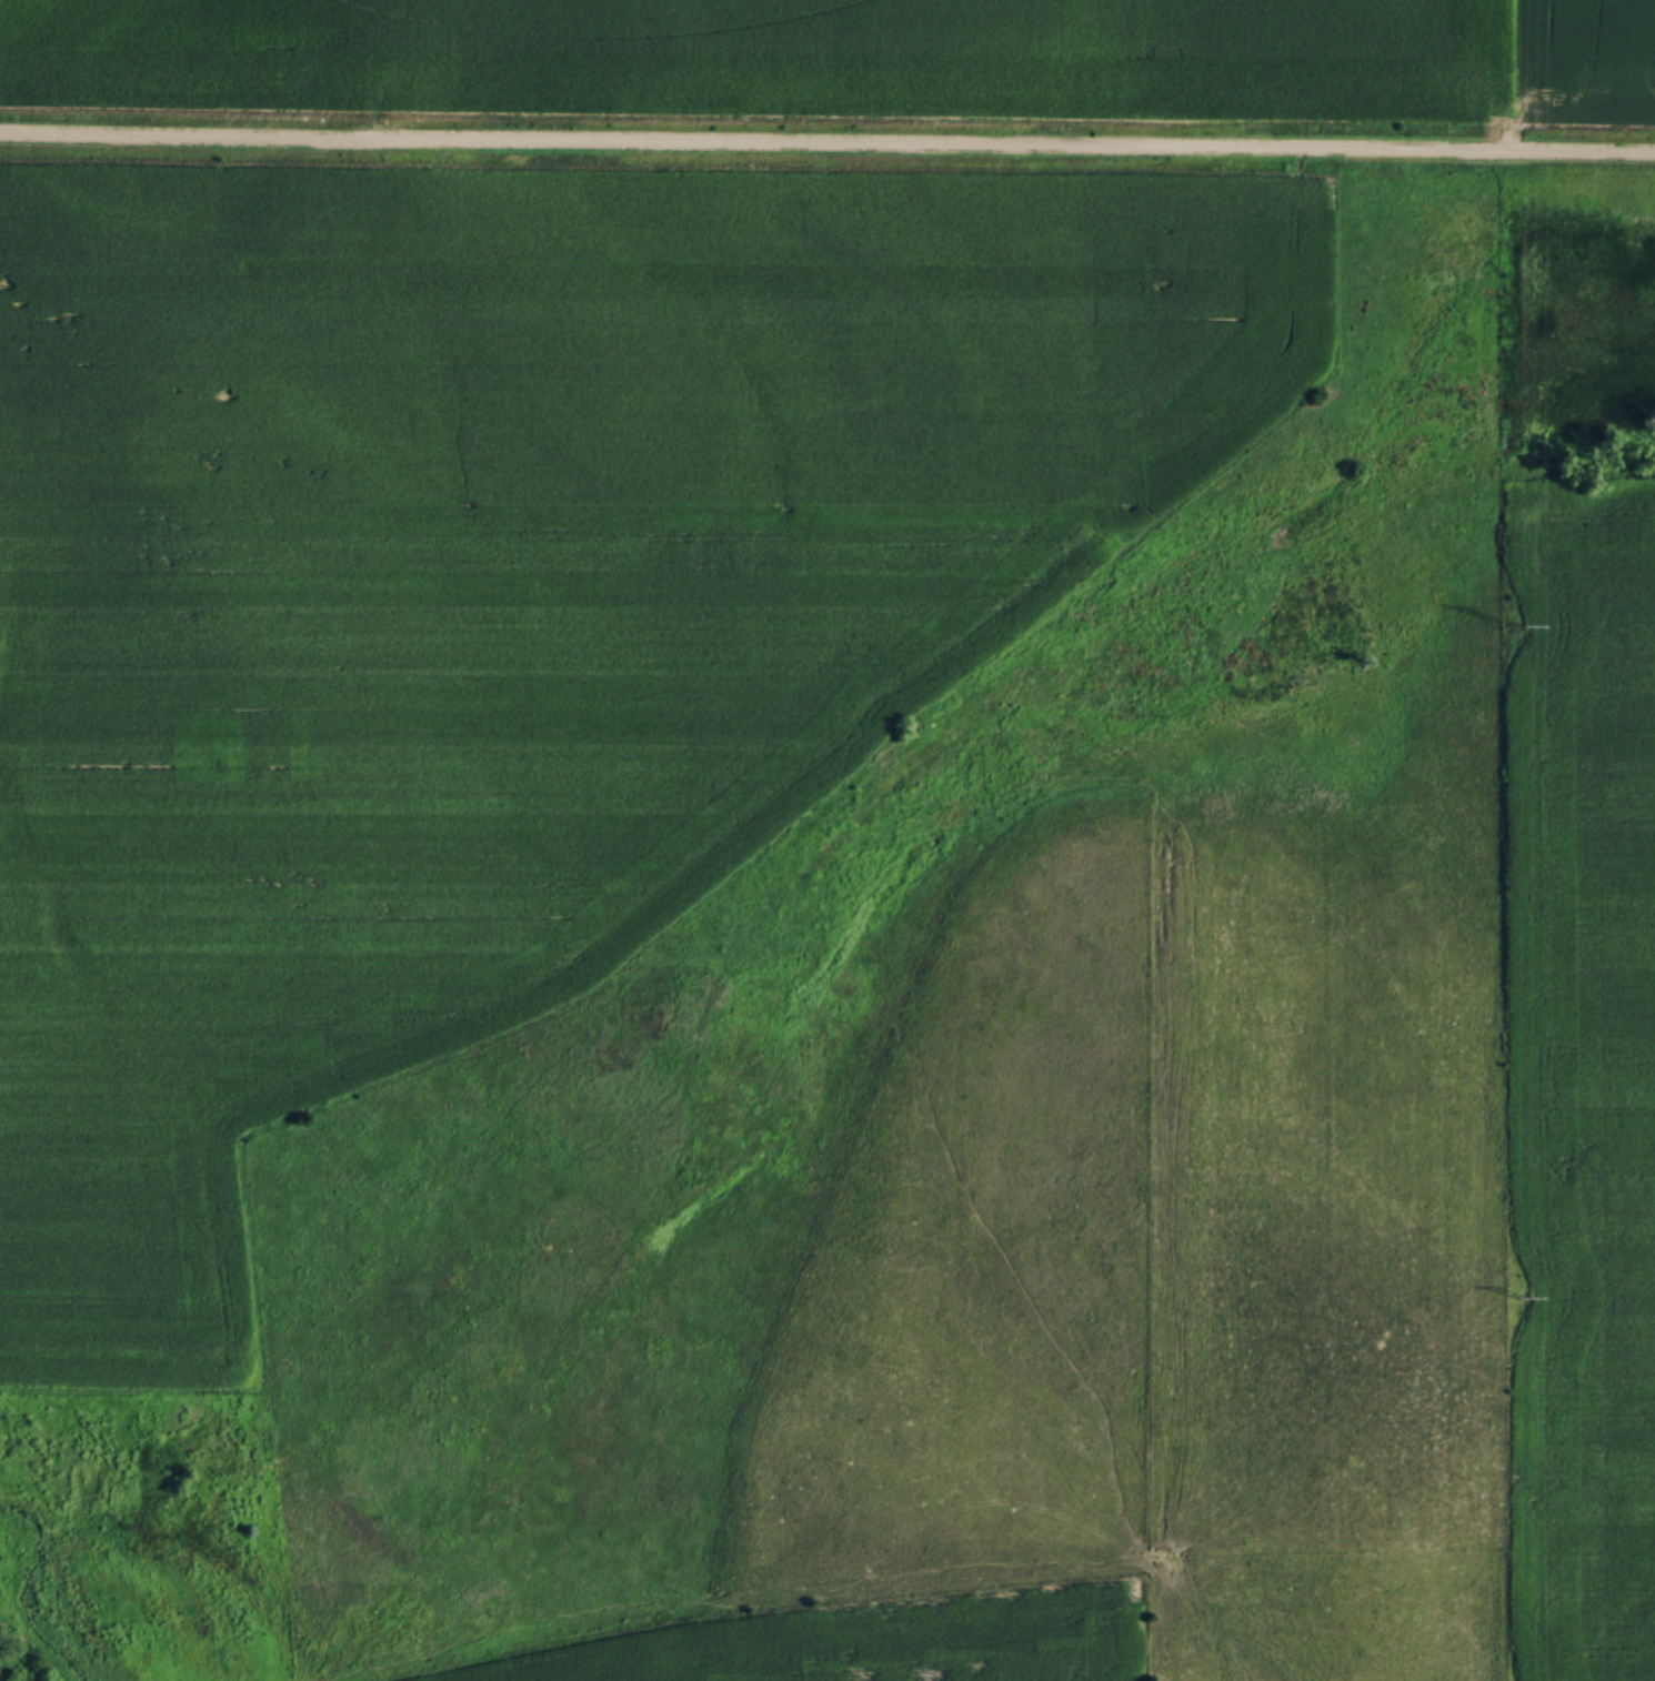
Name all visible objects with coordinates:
road: (826, 150)
power tower: (1519, 626)
power tower: (1524, 1297)

